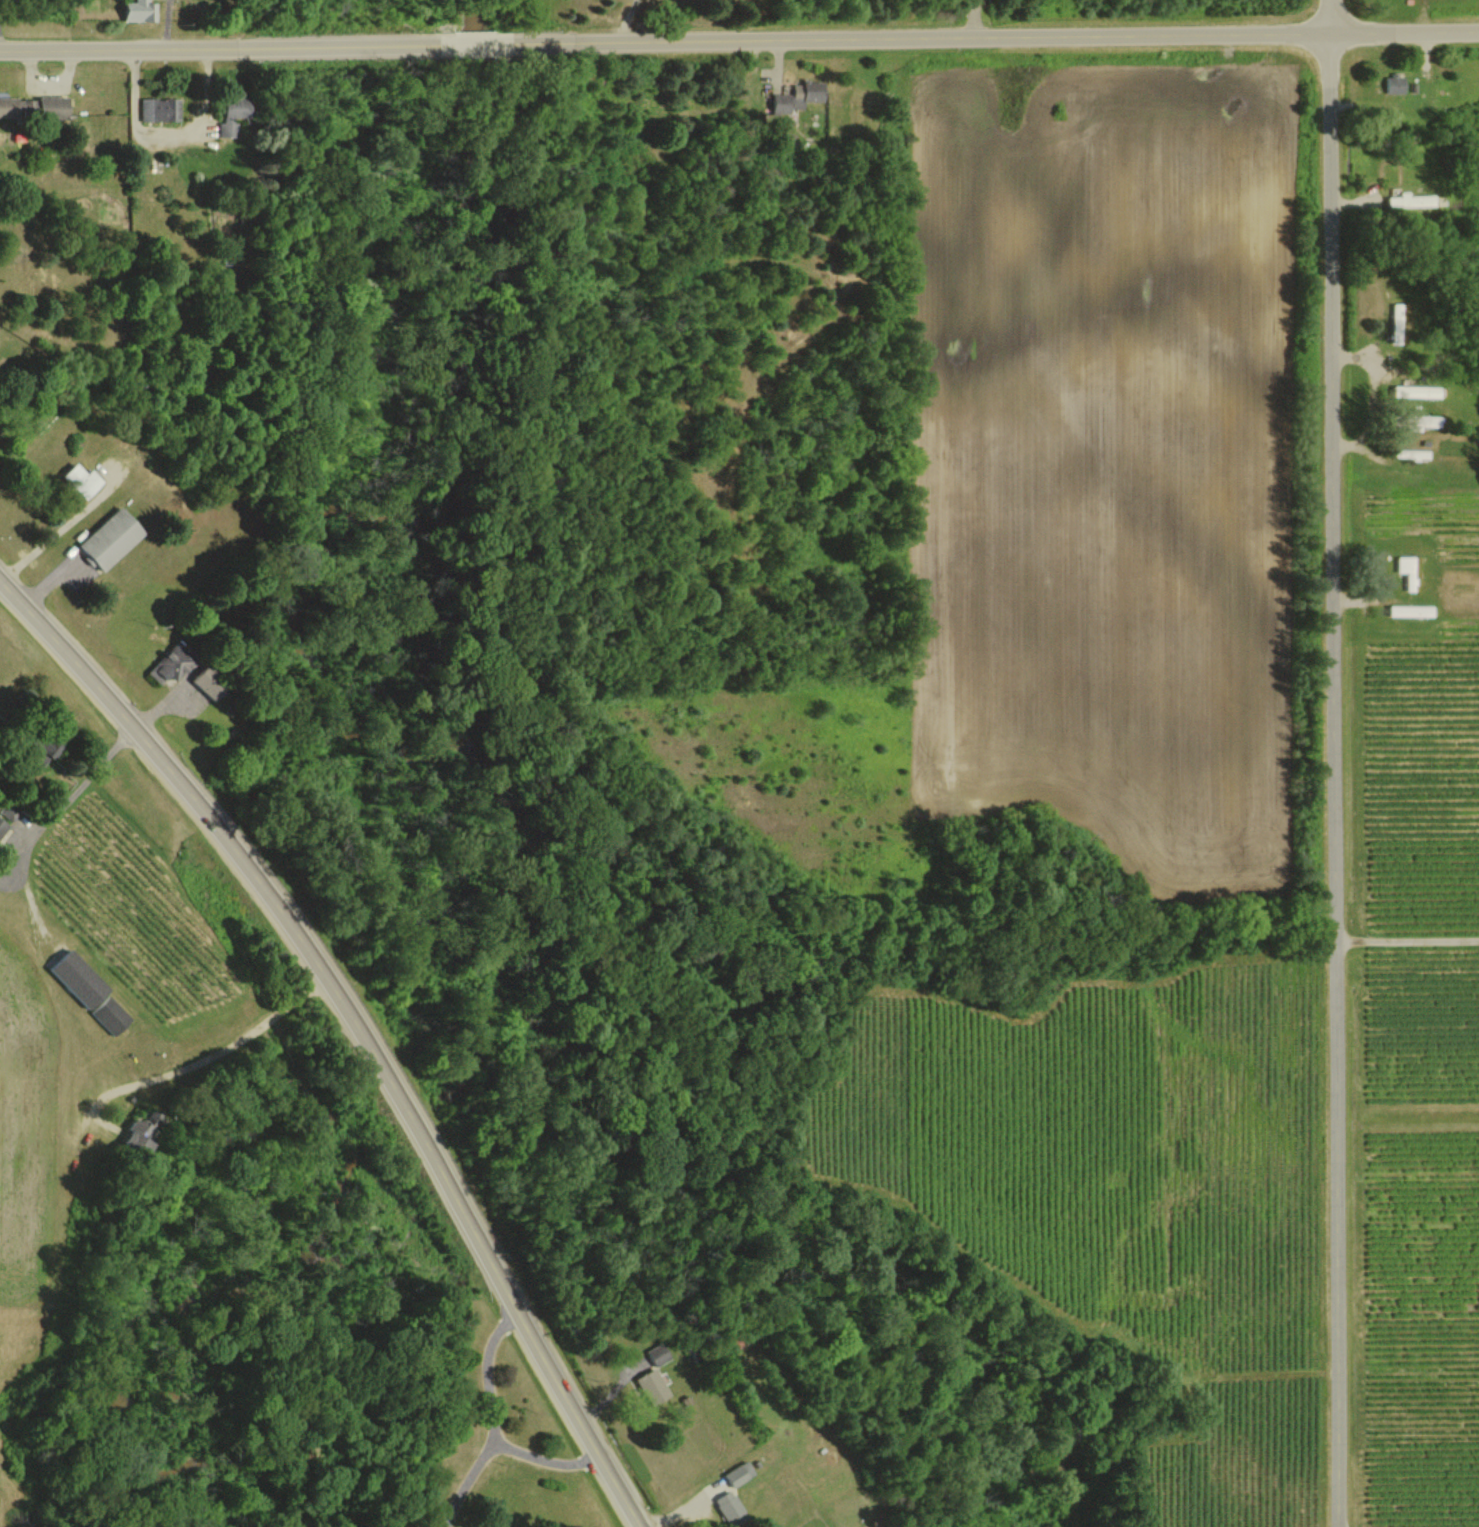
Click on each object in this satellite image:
building: (141, 11)
road: (973, 18)
road: (919, 37)
road: (335, 48)
road: (155, 49)
building: (1393, 84)
building: (800, 96)
building: (35, 106)
building: (161, 108)
building: (235, 116)
road: (167, 136)
building: (1409, 200)
building: (1396, 320)
building: (1414, 391)
building: (1412, 422)
building: (84, 479)
road: (51, 528)
building: (113, 538)
building: (1405, 571)
building: (1406, 611)
building: (171, 665)
building: (210, 683)
building: (55, 747)
road: (1331, 763)
road: (67, 795)
building: (3, 825)
road: (31, 906)
building: (91, 991)
road: (358, 1026)
road: (205, 1059)
building: (147, 1132)
building: (657, 1353)
building: (653, 1386)
road: (491, 1420)
building: (740, 1473)
road: (464, 1479)
building: (730, 1506)

